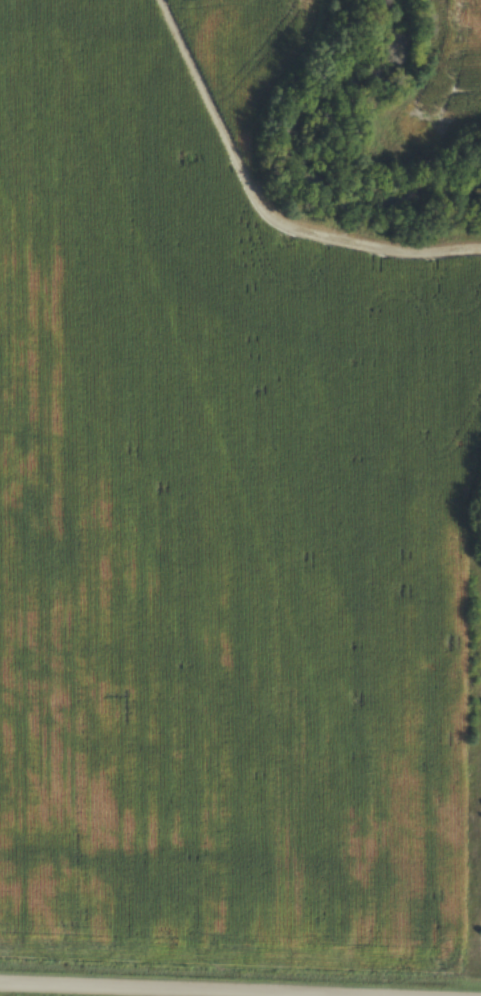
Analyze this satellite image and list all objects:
road: (194, 989)

